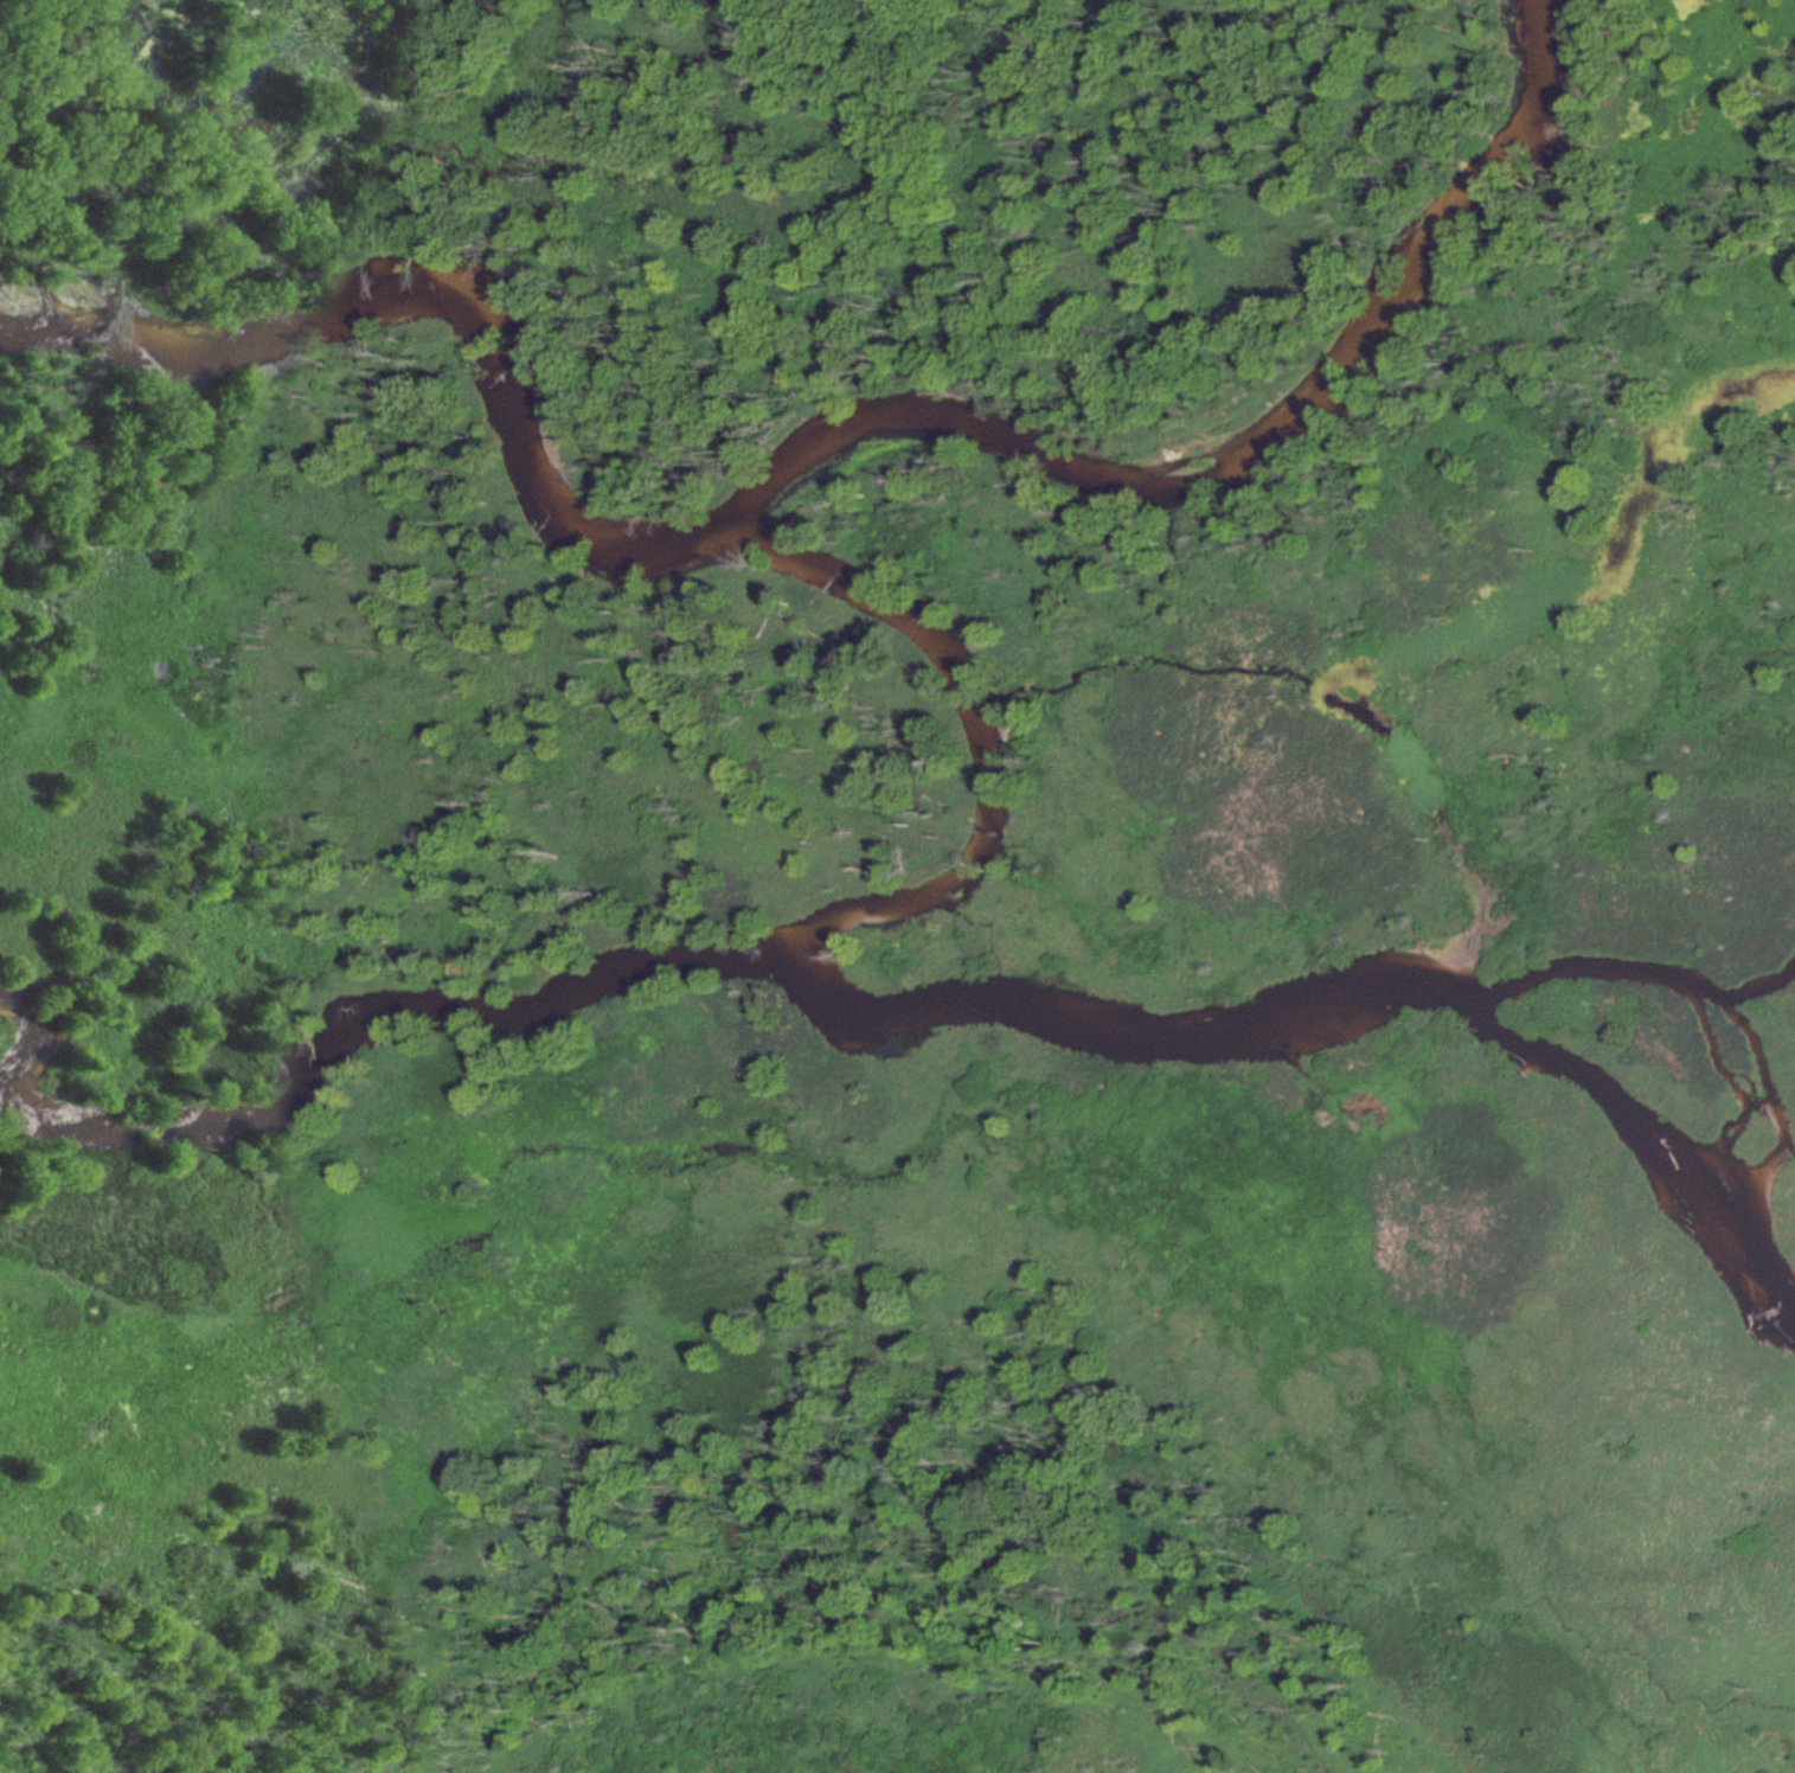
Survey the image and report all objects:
river: (822, 471)

